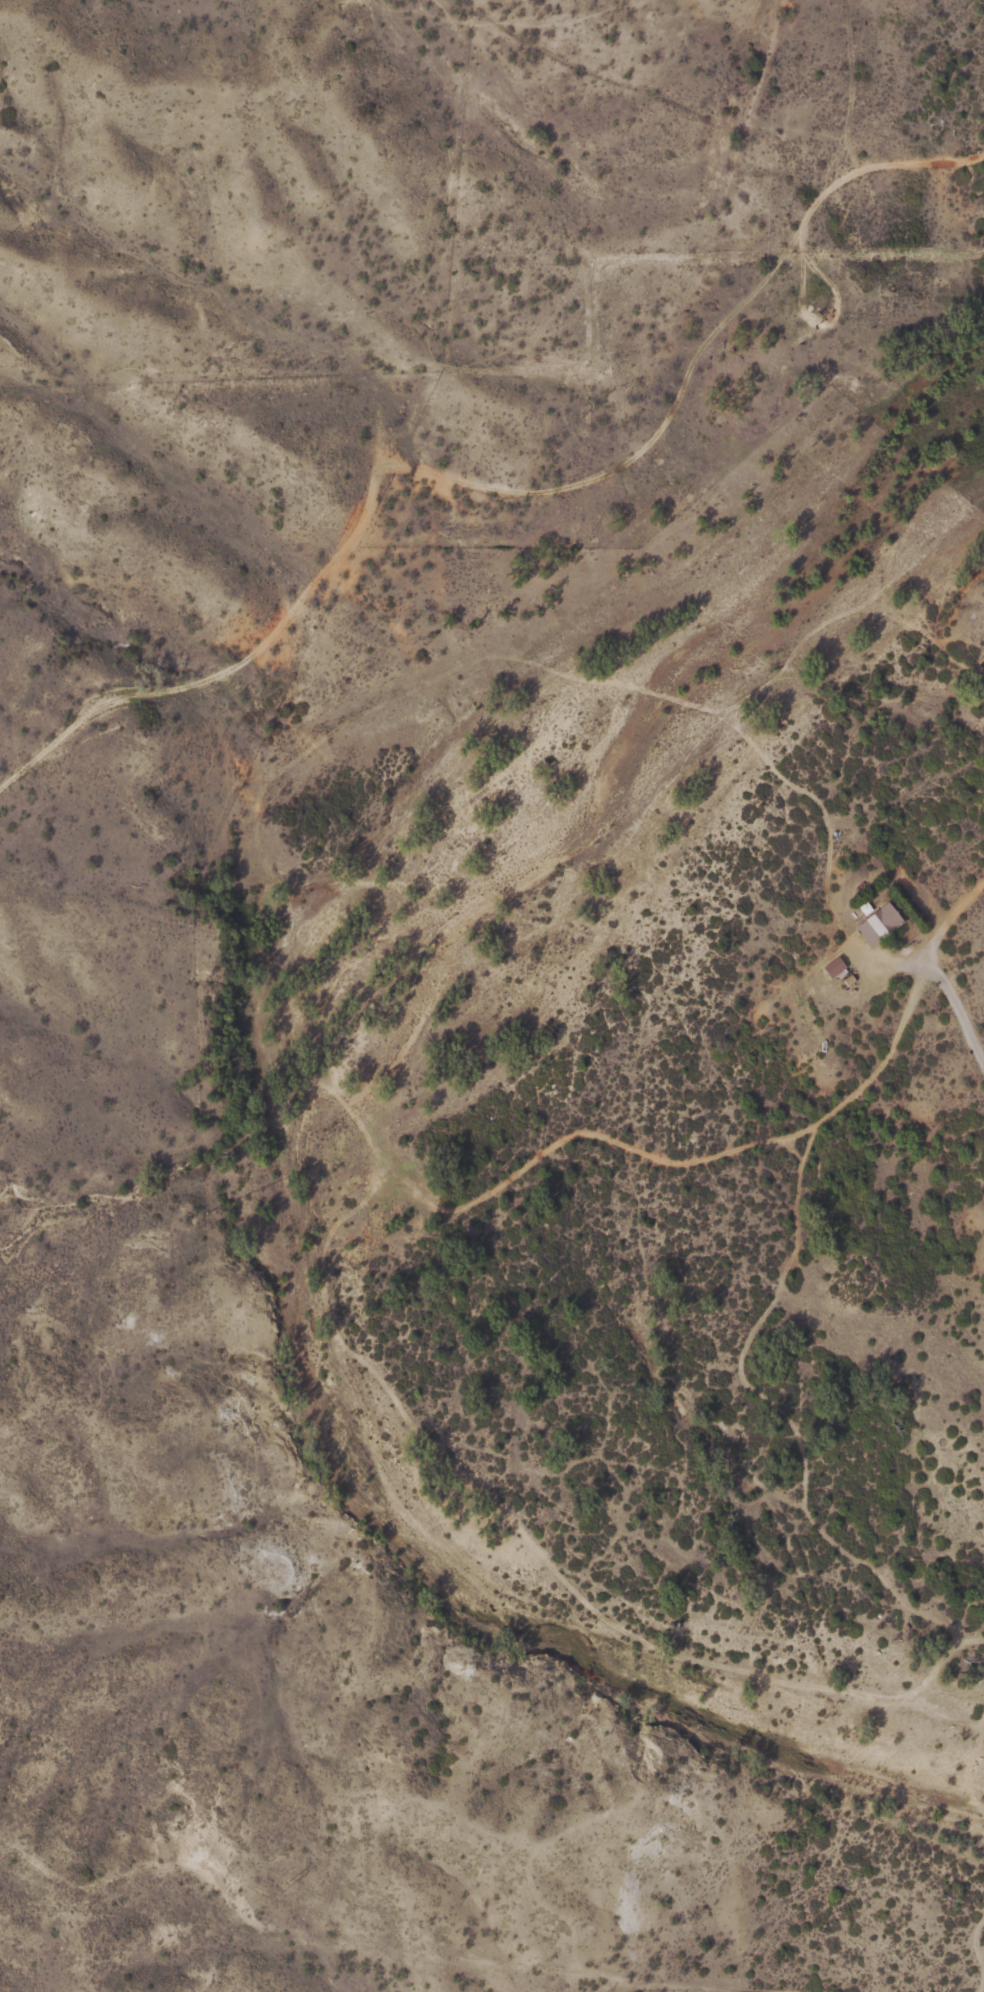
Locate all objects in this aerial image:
power tower: (284, 1886)

